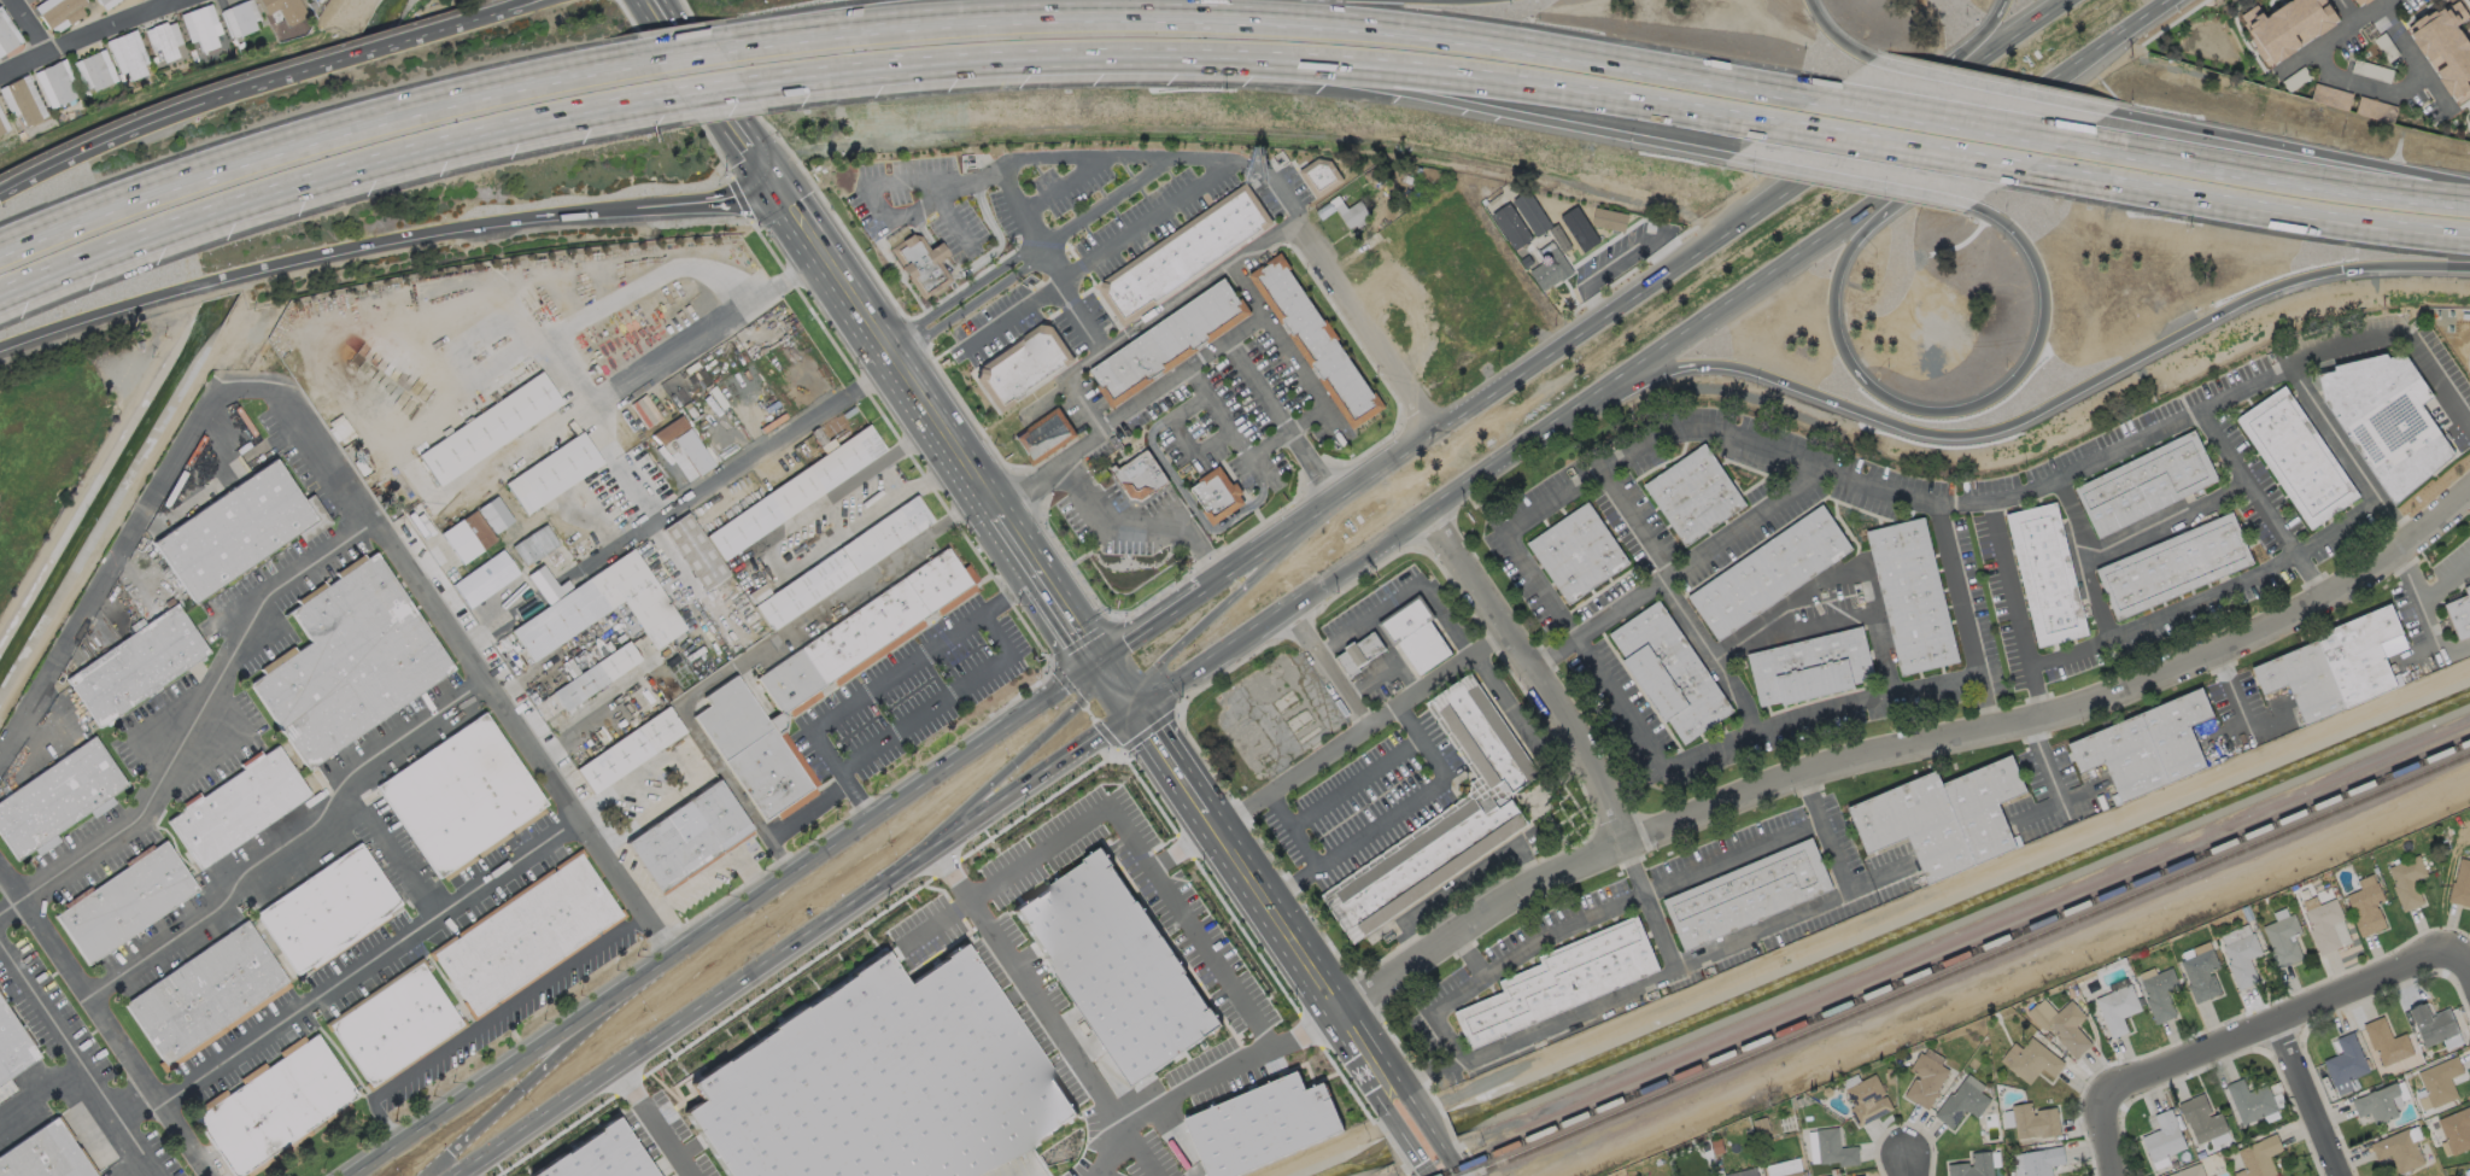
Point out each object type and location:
building: (306, 0)
road: (165, 1)
building: (104, 2)
building: (2358, 2)
road: (1128, 4)
road: (525, 7)
building: (283, 10)
road: (2346, 11)
building: (63, 12)
road: (1268, 13)
building: (242, 19)
building: (2285, 25)
road: (29, 27)
building: (204, 30)
road: (1836, 35)
road: (2335, 35)
road: (84, 36)
building: (6, 37)
building: (165, 42)
building: (2445, 46)
road: (681, 47)
road: (1966, 48)
building: (131, 57)
road: (2411, 58)
road: (912, 66)
road: (1427, 71)
building: (95, 72)
road: (700, 75)
road: (271, 82)
building: (59, 84)
road: (2365, 86)
road: (2004, 87)
road: (712, 92)
building: (2330, 95)
road: (1404, 96)
building: (23, 103)
building: (2375, 109)
road: (1948, 121)
road: (1243, 128)
building: (1, 130)
road: (317, 130)
road: (1902, 146)
road: (2304, 151)
road: (1158, 164)
road: (2275, 175)
building: (1318, 176)
road: (332, 179)
road: (926, 179)
road: (1851, 179)
road: (1274, 181)
road: (1052, 186)
traffic signals: (777, 192)
road: (706, 200)
road: (2248, 205)
road: (1100, 206)
road: (1017, 209)
building: (1529, 215)
road: (909, 216)
building: (1354, 216)
building: (1605, 218)
building: (1509, 228)
building: (1578, 229)
road: (924, 230)
road: (999, 244)
road: (1263, 244)
road: (937, 252)
road: (312, 253)
building: (1184, 253)
road: (1801, 257)
building: (921, 263)
building: (1550, 267)
traffic signals: (2341, 270)
road: (960, 293)
road: (1632, 294)
road: (1073, 298)
road: (967, 304)
road: (1154, 316)
road: (1012, 318)
road: (1364, 327)
road: (706, 329)
road: (873, 330)
road: (2401, 338)
building: (1318, 341)
building: (1169, 345)
building: (291, 362)
building: (1022, 363)
building: (596, 369)
road: (1300, 371)
road: (2054, 400)
road: (1083, 408)
road: (1920, 409)
road: (1128, 413)
building: (643, 415)
building: (2386, 420)
road: (1280, 421)
building: (771, 426)
building: (343, 429)
building: (490, 429)
road: (1682, 433)
building: (1042, 434)
road: (1233, 437)
road: (1184, 443)
building: (692, 451)
building: (2298, 456)
road: (2352, 458)
building: (554, 474)
building: (1139, 475)
road: (338, 481)
building: (2147, 484)
building: (796, 493)
building: (1693, 493)
road: (1084, 495)
building: (1221, 498)
building: (493, 502)
road: (2261, 504)
road: (681, 505)
road: (2164, 517)
road: (1633, 523)
road: (1944, 527)
building: (239, 531)
road: (1129, 532)
road: (1190, 533)
building: (468, 538)
road: (1019, 544)
building: (507, 545)
building: (534, 546)
building: (1576, 550)
road: (1075, 552)
building: (695, 554)
road: (2084, 558)
road: (767, 561)
building: (2176, 564)
building: (843, 566)
building: (532, 568)
building: (1769, 572)
building: (2047, 574)
building: (486, 580)
road: (2012, 581)
road: (2446, 583)
road: (1824, 585)
building: (2469, 590)
building: (1912, 596)
building: (170, 603)
road: (1222, 607)
road: (1383, 607)
building: (603, 609)
road: (807, 614)
road: (2428, 614)
road: (1281, 615)
building: (2462, 615)
road: (1070, 619)
road: (1833, 620)
road: (1597, 624)
road: (1151, 627)
building: (1417, 634)
building: (1363, 654)
building: (349, 662)
traffic signals: (1099, 663)
building: (137, 666)
building: (1809, 667)
building: (2333, 667)
road: (1327, 669)
road: (1386, 669)
road: (1452, 671)
road: (1534, 673)
building: (1668, 673)
building: (597, 677)
building: (819, 678)
road: (883, 681)
road: (1114, 690)
road: (1891, 695)
road: (2235, 695)
road: (946, 698)
building: (545, 706)
road: (2067, 710)
traffic signals: (1135, 715)
road: (1520, 720)
road: (2244, 724)
road: (192, 725)
building: (1485, 741)
road: (1422, 743)
building: (2147, 747)
building: (630, 751)
road: (1719, 751)
road: (2047, 768)
road: (978, 779)
road: (1354, 784)
building: (58, 798)
building: (462, 798)
building: (238, 807)
road: (2041, 811)
building: (1943, 818)
road: (790, 820)
road: (1290, 830)
building: (687, 837)
road: (289, 841)
building: (45, 844)
road: (1044, 844)
road: (388, 849)
road: (1237, 861)
road: (1838, 861)
building: (1423, 865)
road: (1705, 871)
building: (2406, 880)
road: (1458, 883)
building: (2460, 884)
building: (1748, 896)
building: (125, 902)
building: (2366, 908)
building: (329, 911)
road: (724, 919)
road: (1480, 919)
building: (2323, 924)
road: (1190, 925)
building: (527, 936)
building: (2283, 940)
road: (1727, 944)
road: (797, 946)
road: (1469, 953)
road: (374, 959)
railway: (1955, 959)
building: (2242, 959)
road: (2462, 960)
building: (1113, 961)
road: (1500, 961)
railway: (1972, 966)
building: (2200, 975)
building: (1568, 979)
road: (1024, 982)
building: (2160, 994)
building: (207, 996)
road: (519, 1007)
building: (2117, 1008)
road: (105, 1023)
building: (2433, 1023)
building: (2062, 1024)
building: (396, 1025)
road: (2240, 1032)
road: (1535, 1036)
building: (2386, 1041)
building: (12, 1049)
road: (1366, 1051)
road: (76, 1058)
building: (2031, 1059)
building: (2345, 1063)
building: (878, 1080)
building: (1925, 1080)
building: (2440, 1081)
road: (1204, 1084)
road: (522, 1089)
road: (41, 1094)
road: (1403, 1099)
building: (1867, 1099)
road: (2308, 1099)
building: (2250, 1100)
building: (1960, 1104)
building: (2377, 1104)
road: (1392, 1106)
building: (275, 1107)
road: (140, 1113)
building: (2200, 1118)
building: (1258, 1121)
building: (2033, 1121)
road: (654, 1123)
road: (1430, 1129)
building: (2456, 1129)
building: (2164, 1136)
road: (1407, 1141)
building: (1833, 1148)
building: (2400, 1148)
building: (595, 1154)
building: (2259, 1155)
building: (45, 1157)
road: (1901, 1159)
building: (2041, 1160)
road: (1456, 1164)
building: (2018, 1164)
building: (1785, 1165)
building: (1973, 1165)
road: (1427, 1170)
building: (1742, 1170)
building: (2189, 1170)
building: (1861, 1175)
building: (2214, 1175)

